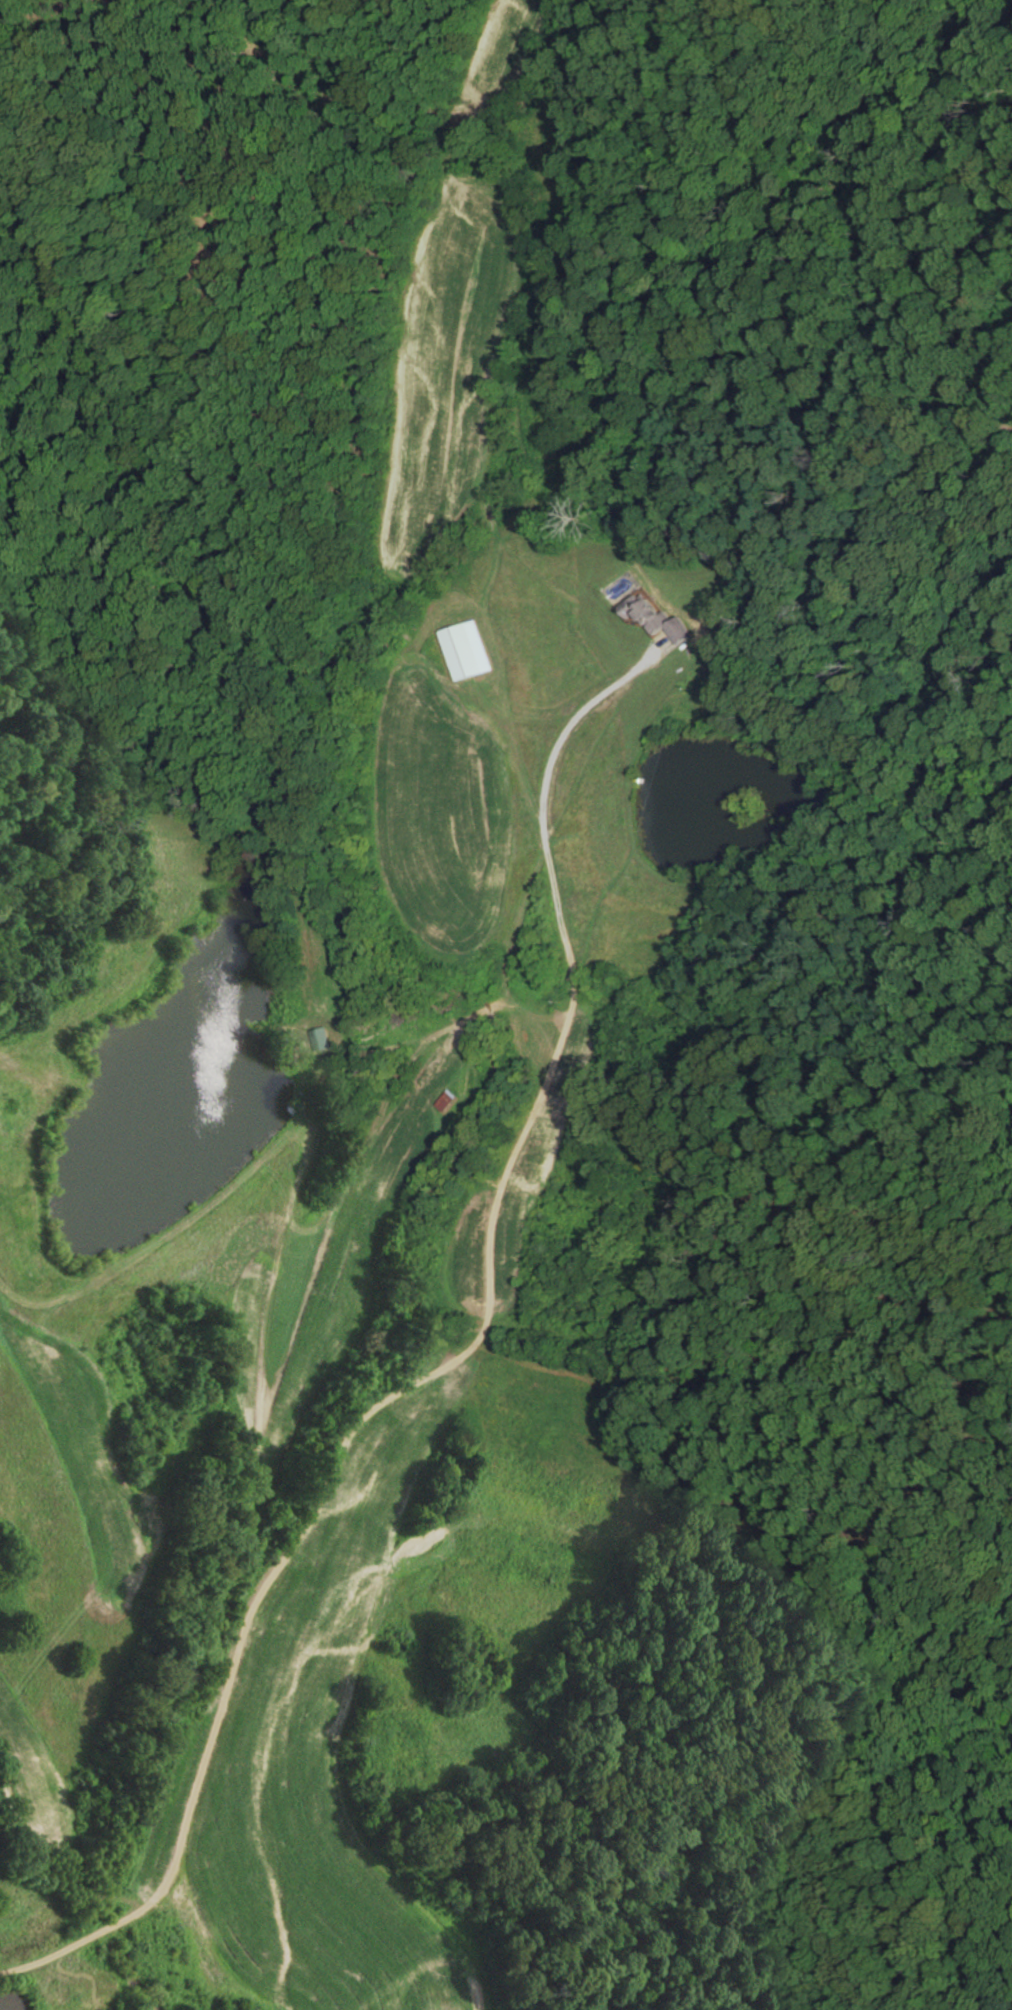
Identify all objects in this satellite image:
building: (655, 621)
building: (457, 651)
building: (315, 1038)
road: (432, 1364)

